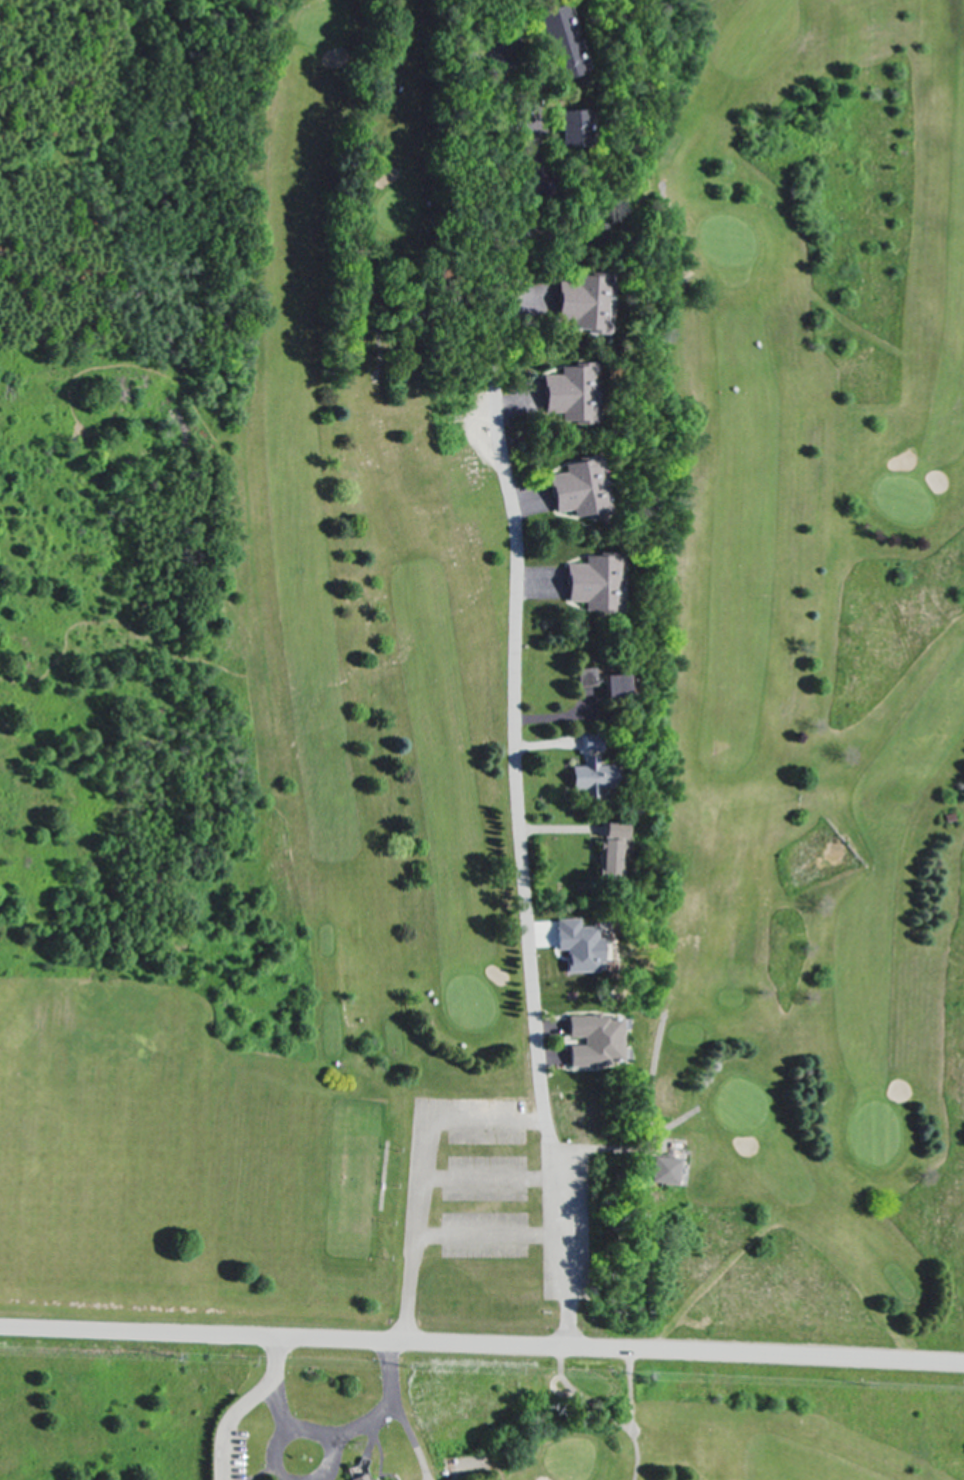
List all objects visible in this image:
building: (554, 42)
building: (568, 128)
building: (580, 301)
building: (566, 393)
building: (576, 489)
building: (591, 581)
building: (585, 675)
building: (613, 685)
park: (559, 735)
building: (590, 776)
building: (607, 850)
road: (525, 882)
building: (578, 945)
building: (593, 1040)
building: (665, 1169)
parking lot: (478, 1175)
road: (482, 1342)
road: (245, 1407)
building: (359, 1477)

